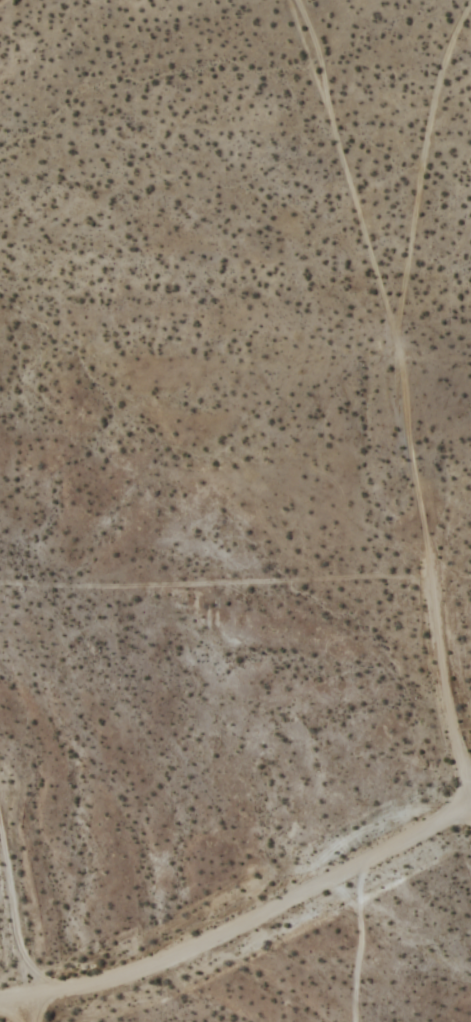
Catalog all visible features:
road: (445, 687)
road: (241, 925)
road: (17, 952)

